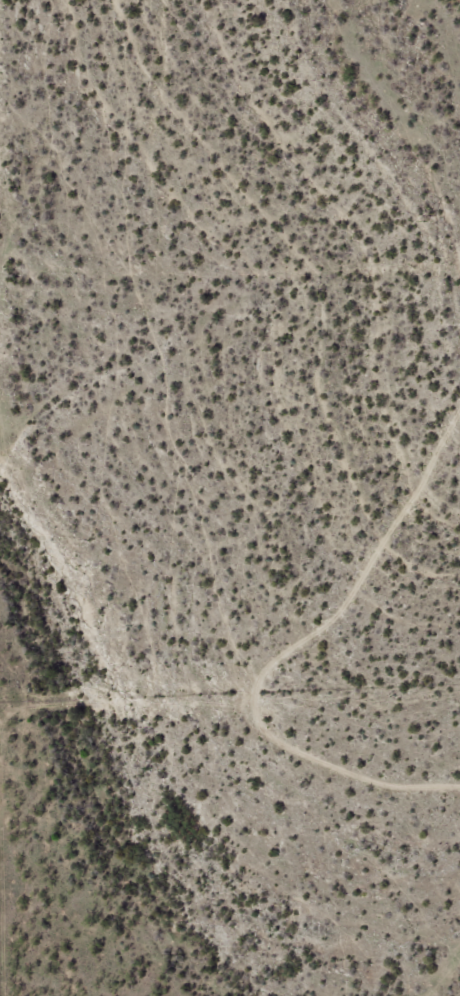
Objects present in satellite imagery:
power tower: (431, 220)
road: (198, 685)

